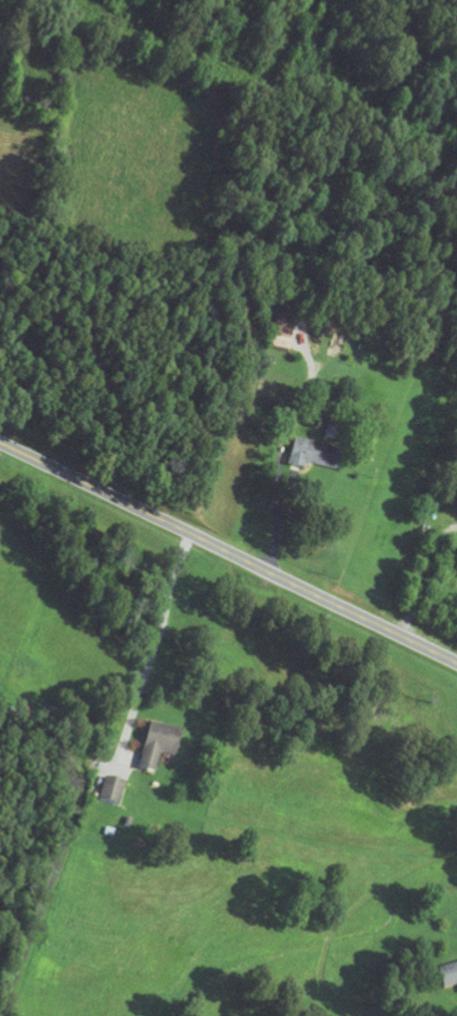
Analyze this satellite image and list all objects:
building: (282, 334)
building: (315, 457)
road: (228, 554)
building: (159, 749)
building: (112, 793)
road: (62, 856)
building: (448, 979)

